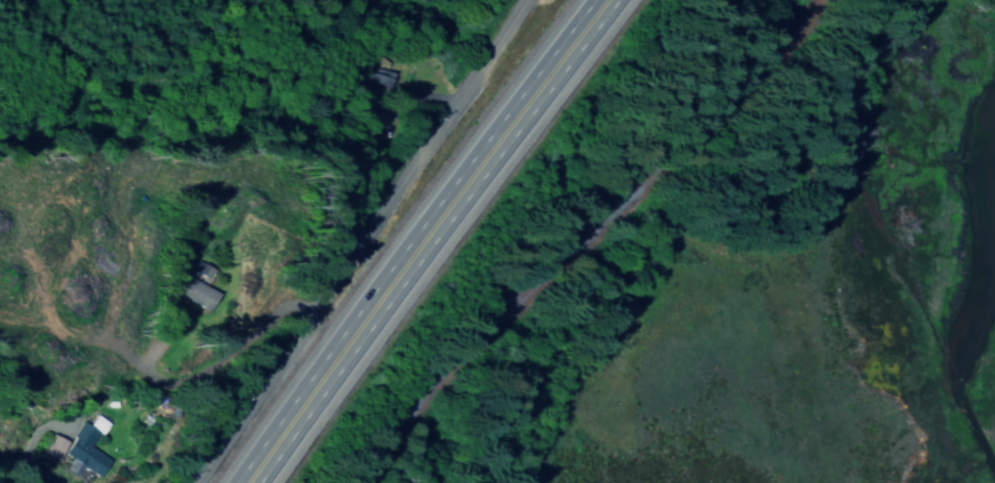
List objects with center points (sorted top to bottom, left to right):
building: (374, 87)
building: (373, 125)
railway: (586, 234)
road: (428, 238)
road: (366, 240)
building: (204, 271)
building: (194, 291)
building: (95, 425)
building: (50, 448)
building: (79, 454)

